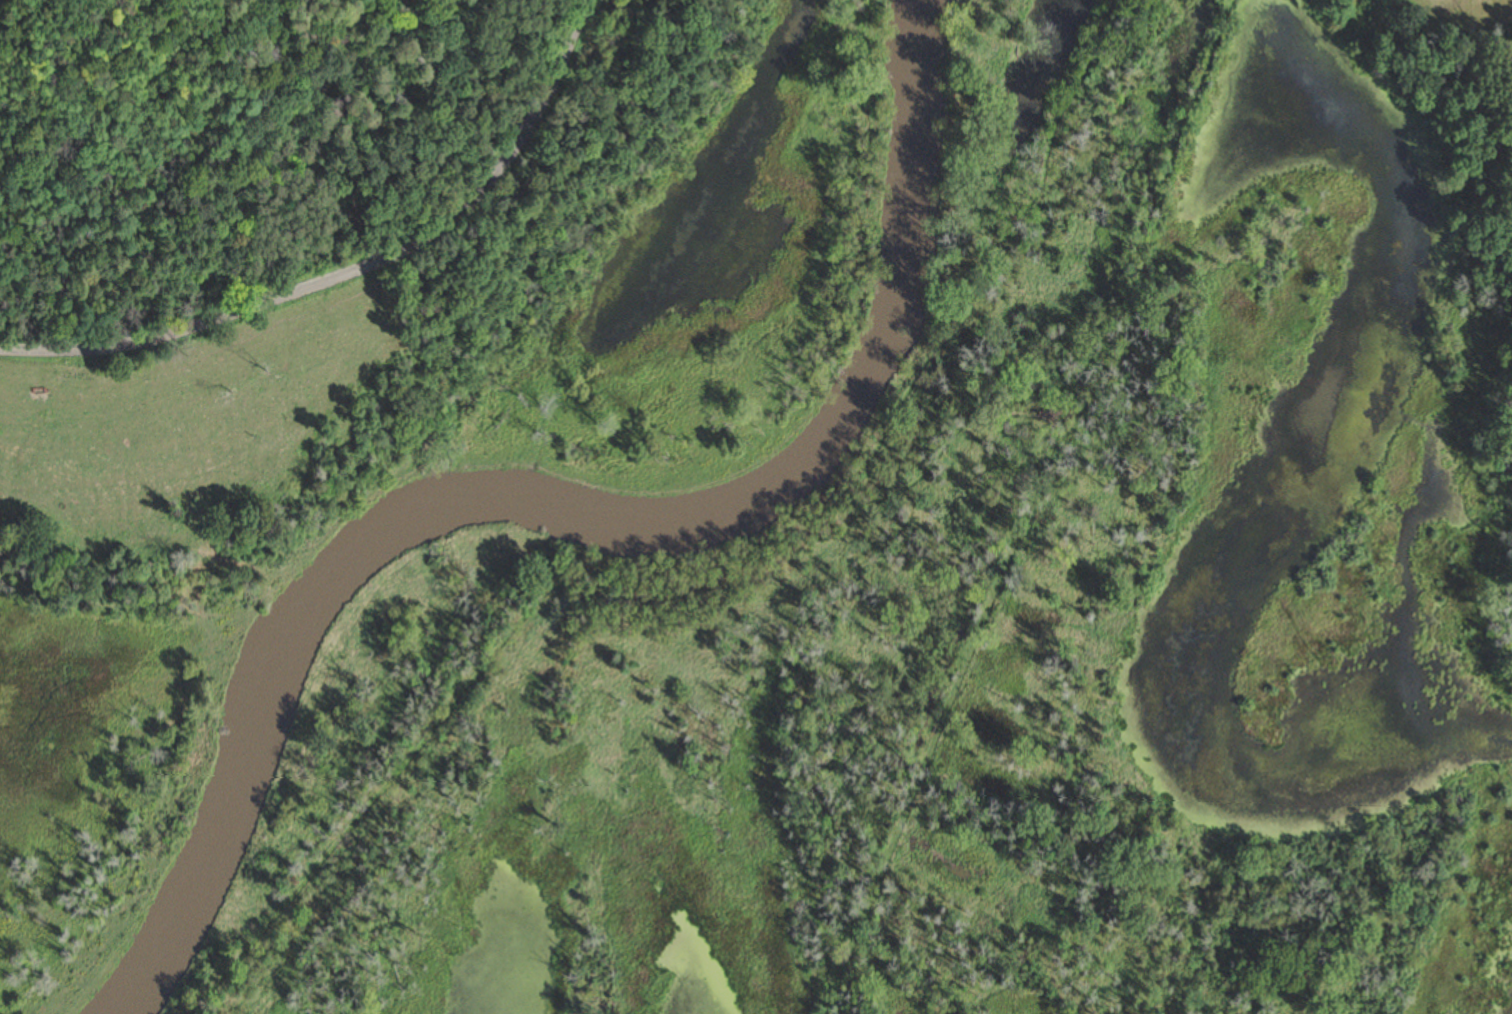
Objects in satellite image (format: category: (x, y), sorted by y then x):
crop: (1470, 15)
road: (355, 268)
river: (567, 507)

